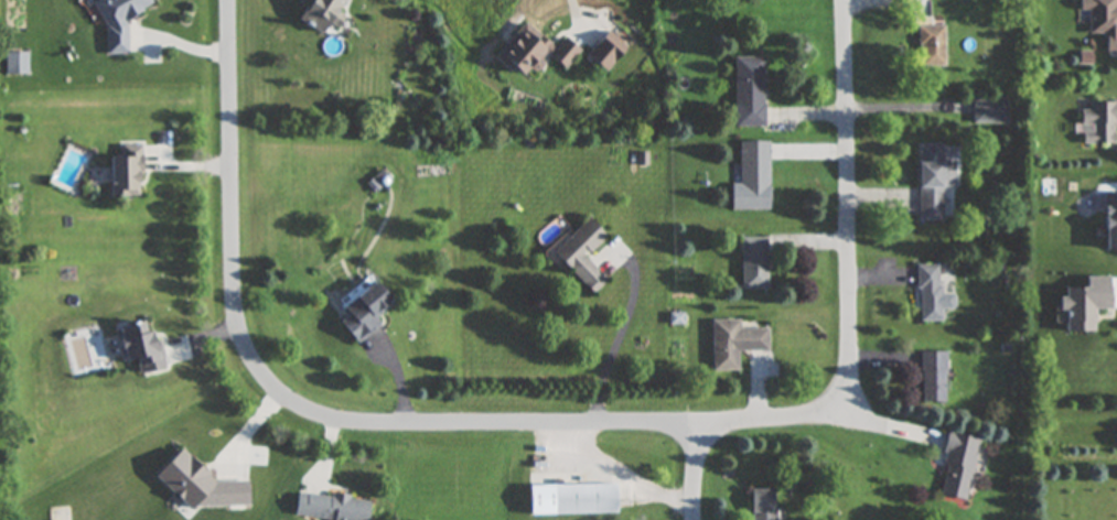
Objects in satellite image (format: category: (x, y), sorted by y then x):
building: (322, 13)
road: (574, 13)
building: (1103, 20)
building: (118, 22)
building: (931, 45)
building: (531, 52)
building: (606, 52)
building: (17, 64)
building: (748, 91)
building: (990, 111)
building: (1098, 123)
building: (125, 173)
building: (933, 176)
building: (752, 178)
building: (582, 254)
building: (753, 263)
road: (844, 280)
building: (928, 293)
building: (1084, 305)
building: (363, 312)
road: (622, 333)
building: (733, 343)
building: (139, 348)
building: (932, 378)
road: (297, 389)
building: (956, 467)
road: (698, 470)
building: (572, 499)
building: (761, 505)
building: (330, 507)

